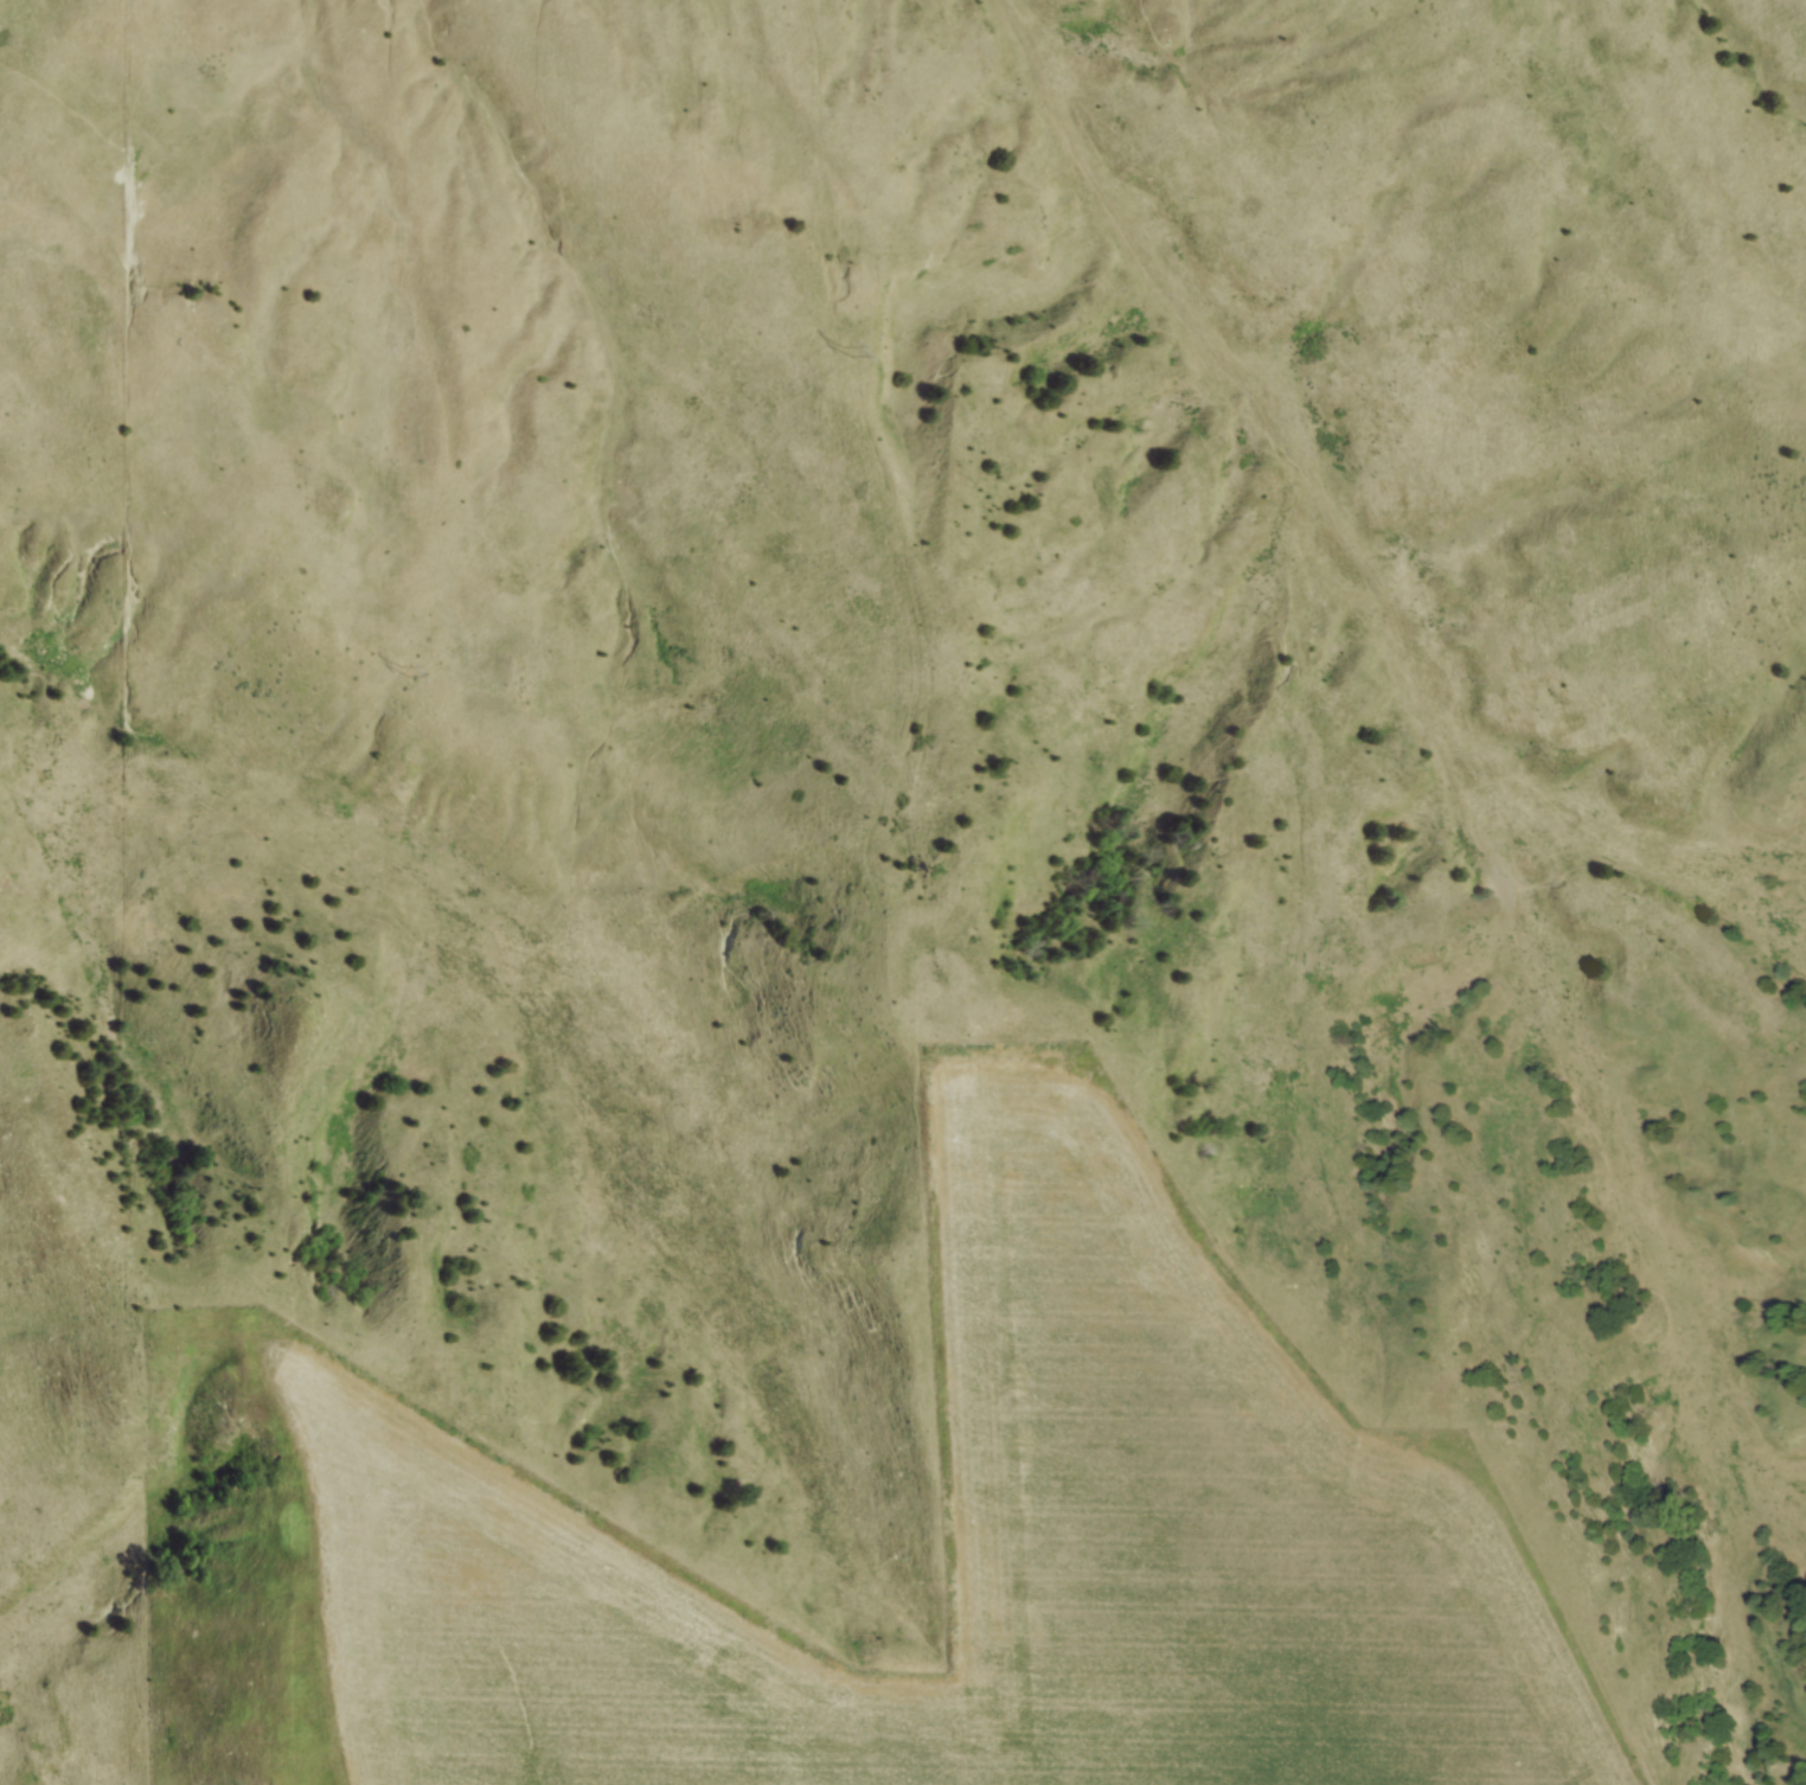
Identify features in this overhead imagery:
power tower: (844, 353)
power tower: (405, 674)

